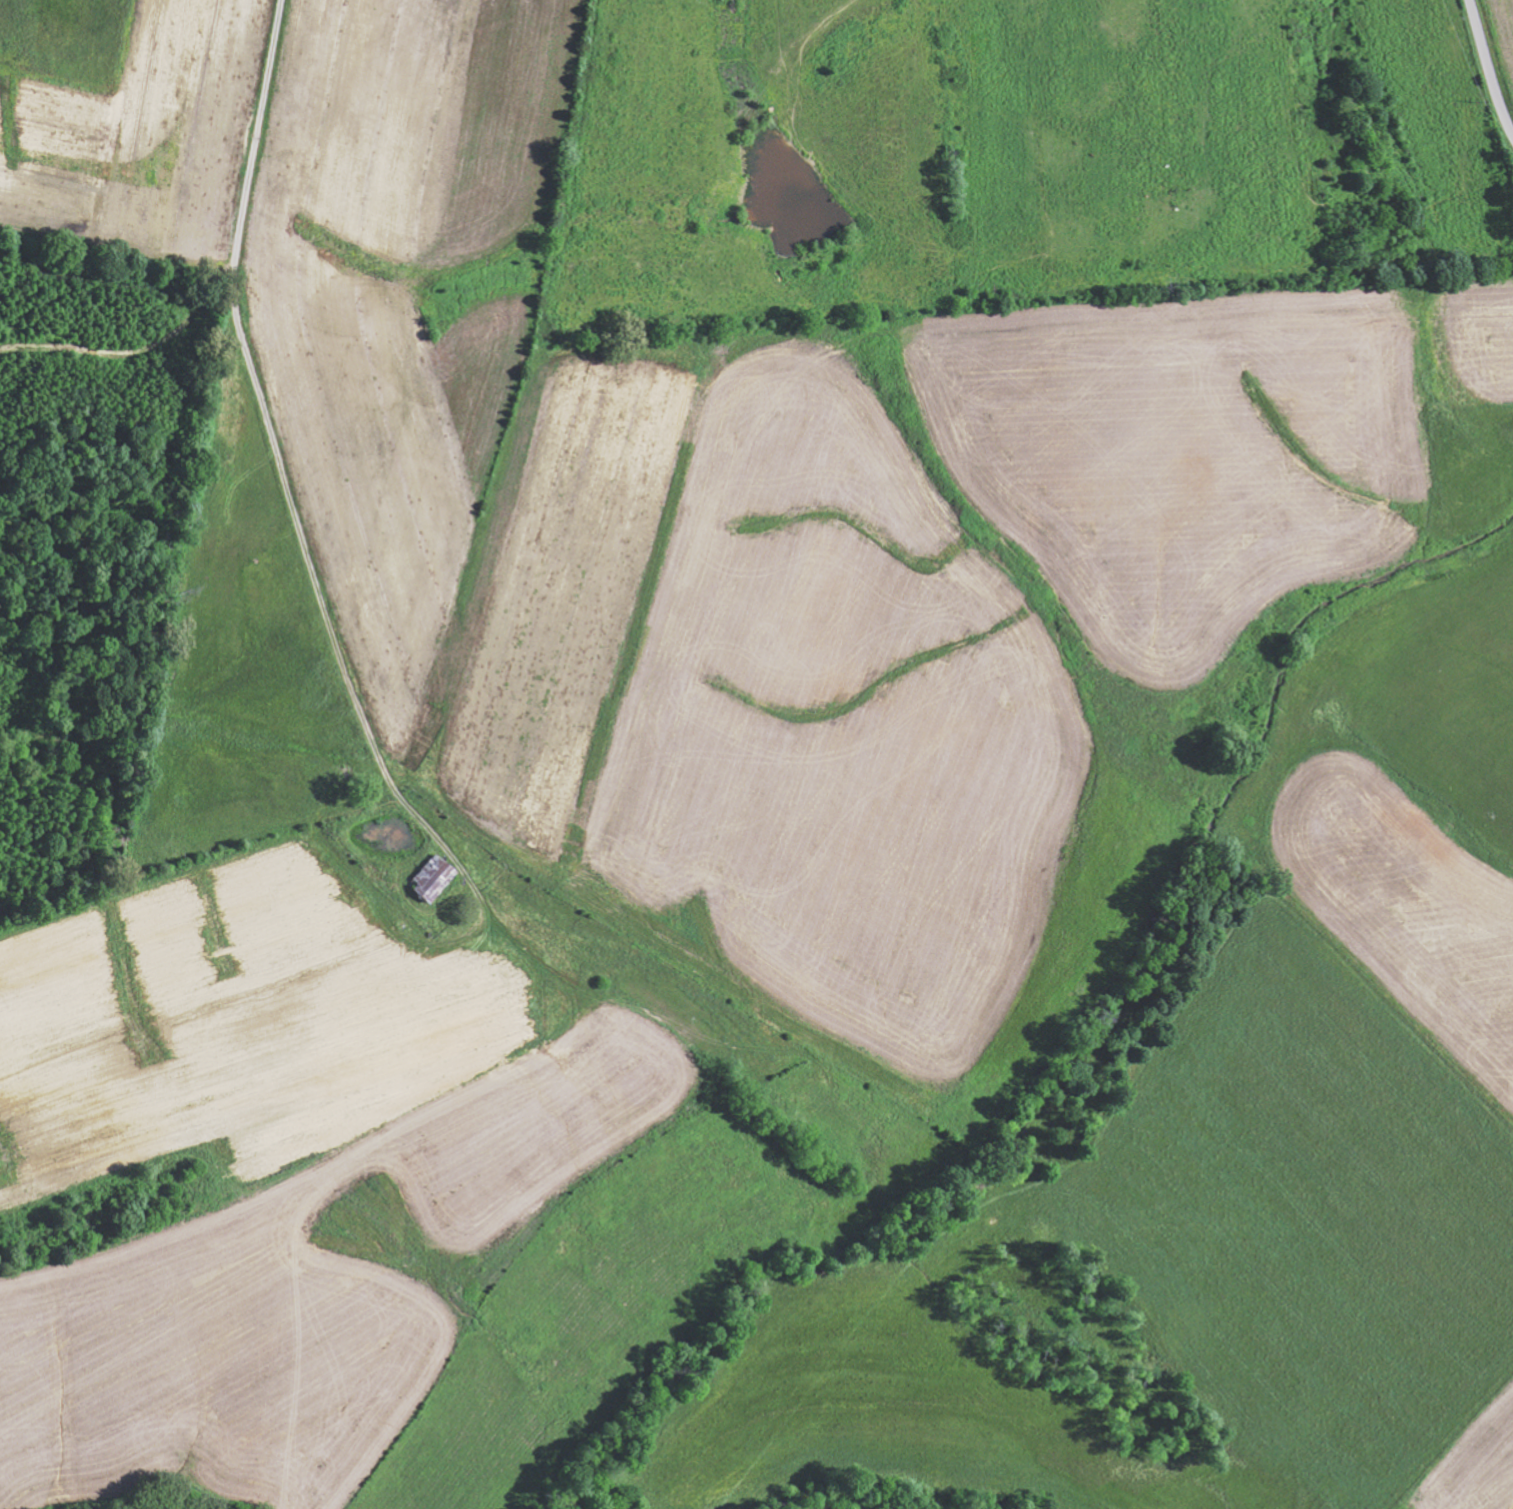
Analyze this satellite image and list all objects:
road: (1487, 67)
building: (435, 876)

